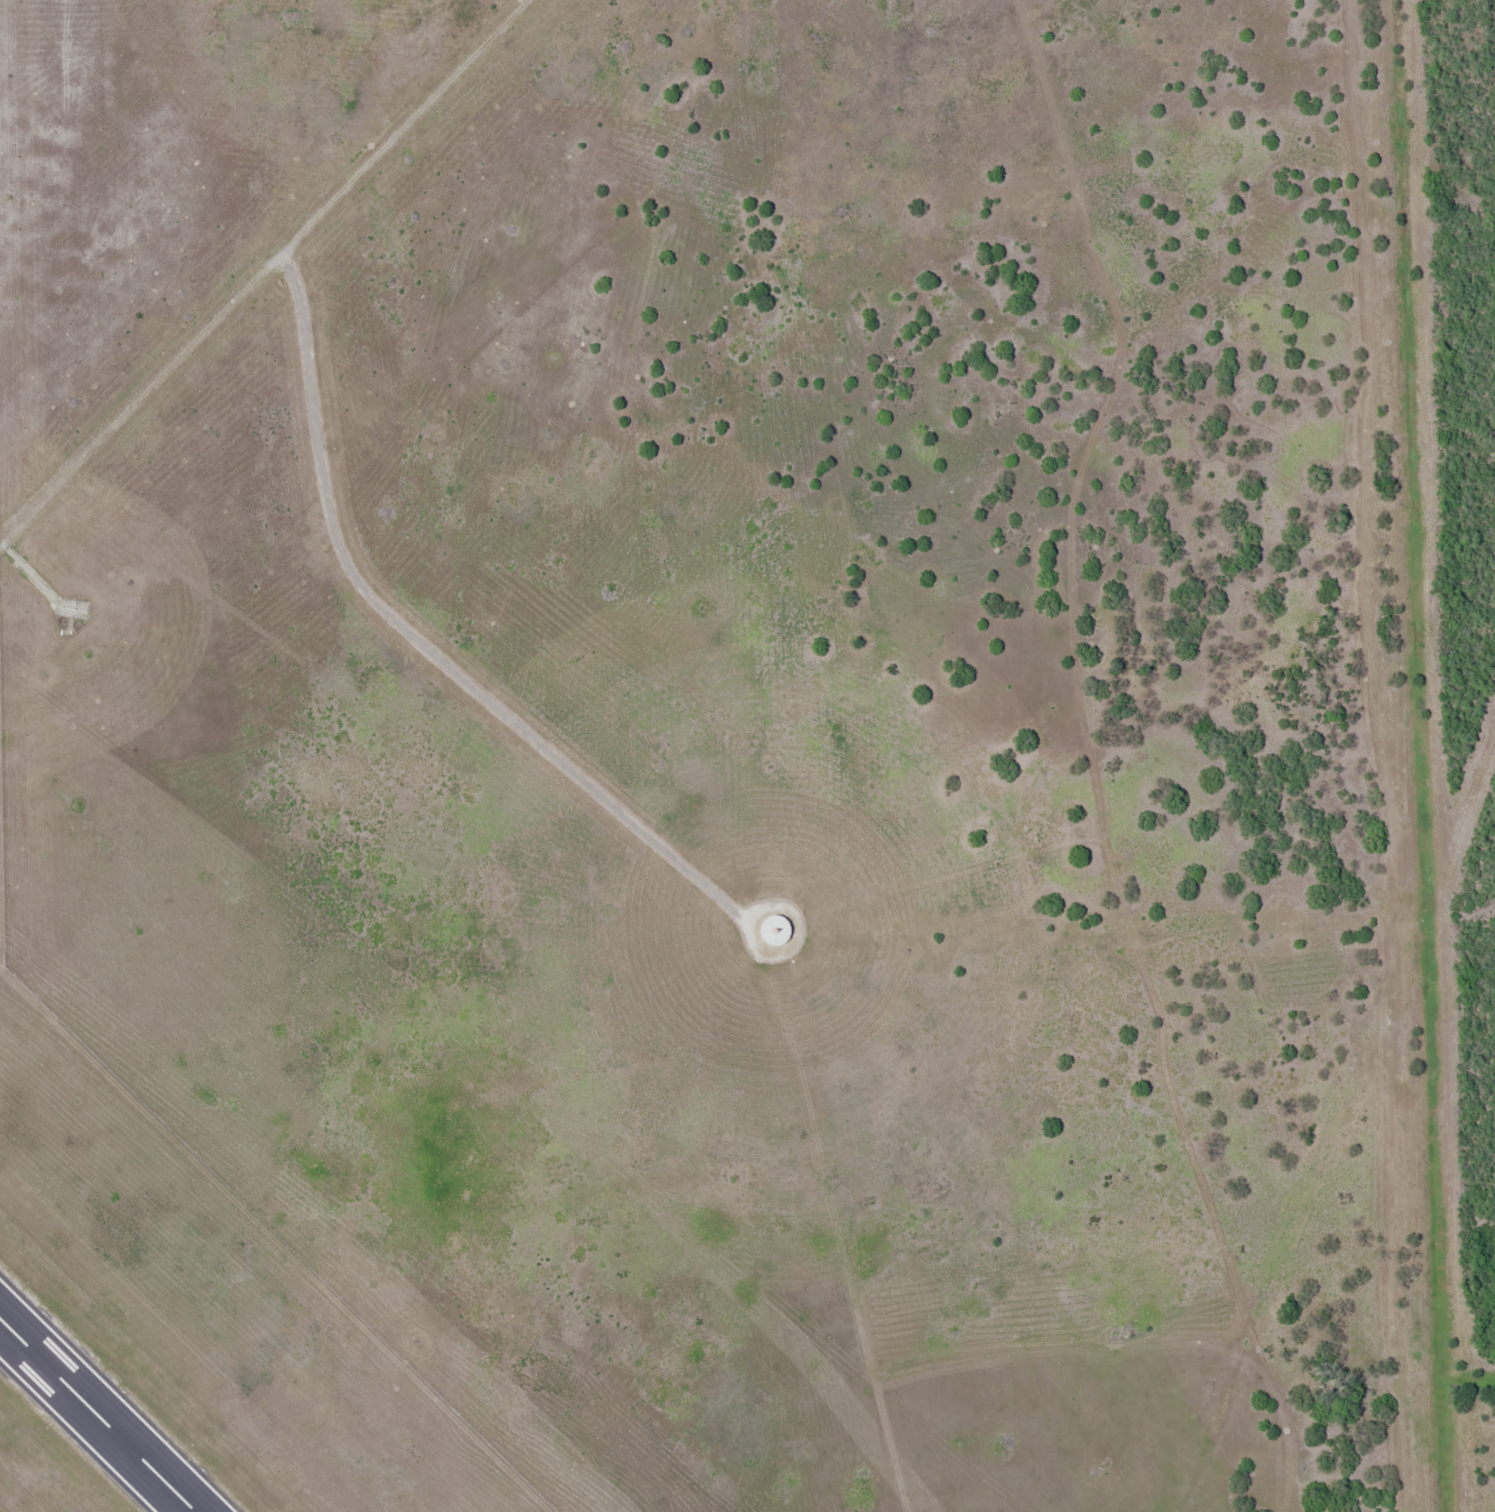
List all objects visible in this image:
airport: (747, 756)
airport runway: (96, 1416)

